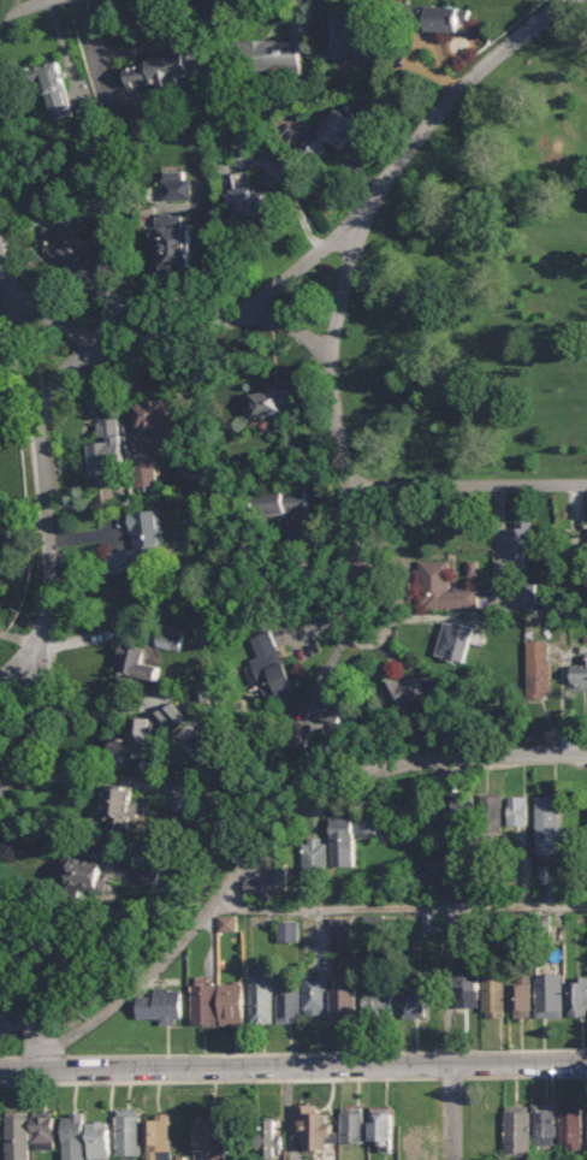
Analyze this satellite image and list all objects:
road: (30, 10)
building: (443, 17)
building: (343, 34)
building: (277, 49)
road: (141, 51)
building: (161, 69)
building: (54, 89)
building: (332, 130)
building: (176, 184)
building: (248, 196)
building: (172, 243)
road: (325, 245)
building: (72, 254)
park: (480, 284)
road: (48, 319)
road: (285, 322)
road: (333, 339)
building: (273, 402)
road: (18, 410)
building: (156, 416)
building: (107, 454)
building: (146, 472)
road: (467, 486)
building: (279, 504)
road: (351, 513)
road: (24, 522)
road: (48, 529)
building: (518, 539)
building: (141, 545)
building: (443, 586)
building: (516, 593)
building: (170, 638)
building: (455, 640)
road: (370, 645)
road: (22, 658)
building: (269, 663)
building: (136, 664)
building: (538, 668)
building: (580, 674)
building: (401, 690)
road: (567, 693)
building: (331, 708)
building: (147, 734)
building: (196, 745)
building: (119, 807)
building: (491, 807)
building: (463, 810)
building: (517, 810)
building: (547, 824)
road: (275, 828)
building: (350, 835)
building: (315, 856)
building: (87, 874)
building: (278, 875)
building: (152, 876)
building: (254, 886)
road: (399, 907)
road: (446, 912)
building: (428, 918)
building: (229, 923)
building: (340, 925)
building: (287, 930)
building: (467, 987)
building: (316, 993)
building: (494, 994)
building: (521, 994)
building: (550, 994)
building: (576, 995)
building: (261, 998)
building: (203, 1000)
building: (379, 1000)
building: (290, 1001)
building: (344, 1001)
building: (415, 1001)
building: (233, 1002)
building: (161, 1005)
road: (28, 1025)
building: (5, 1028)
road: (523, 1050)
road: (450, 1052)
road: (254, 1054)
road: (8, 1057)
road: (42, 1057)
road: (292, 1066)
road: (526, 1076)
road: (450, 1077)
road: (218, 1079)
road: (450, 1112)
building: (545, 1123)
building: (352, 1124)
building: (383, 1125)
building: (571, 1125)
building: (315, 1126)
building: (518, 1129)
building: (45, 1130)
building: (129, 1131)
building: (18, 1135)
building: (73, 1136)
building: (159, 1136)
building: (211, 1136)
building: (271, 1137)
building: (100, 1140)

